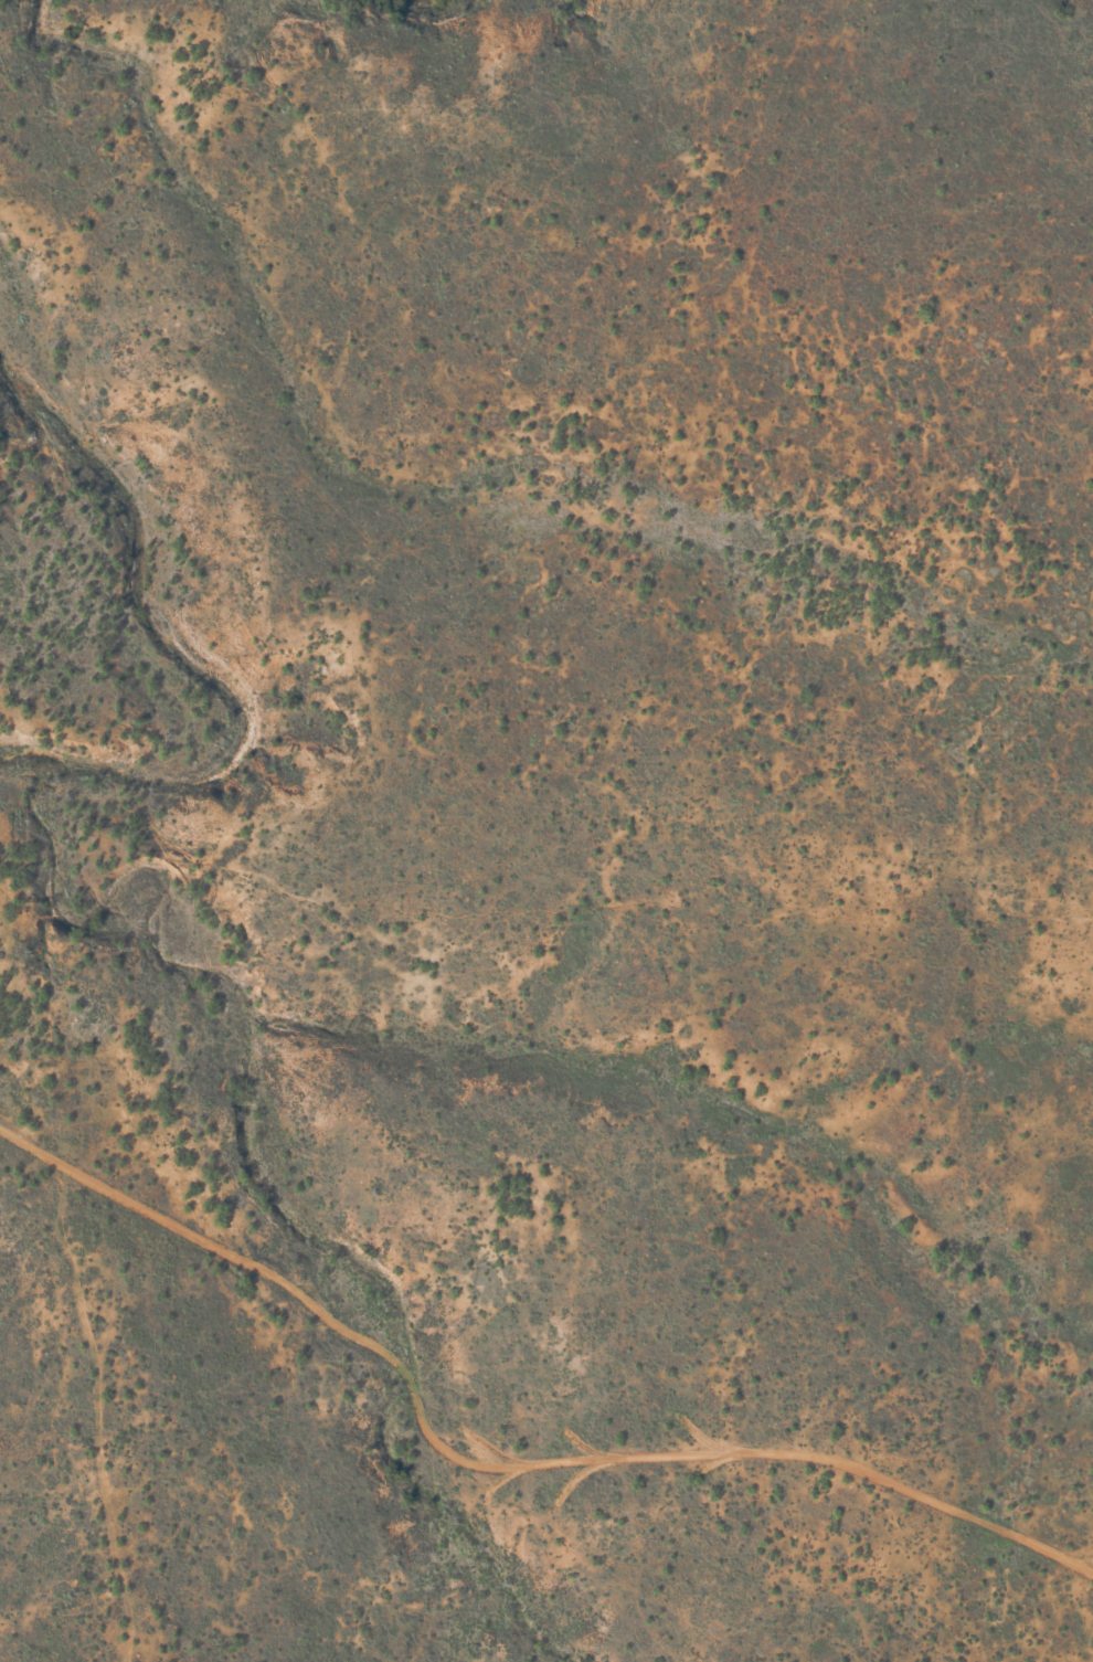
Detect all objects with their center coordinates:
road: (551, 1375)

